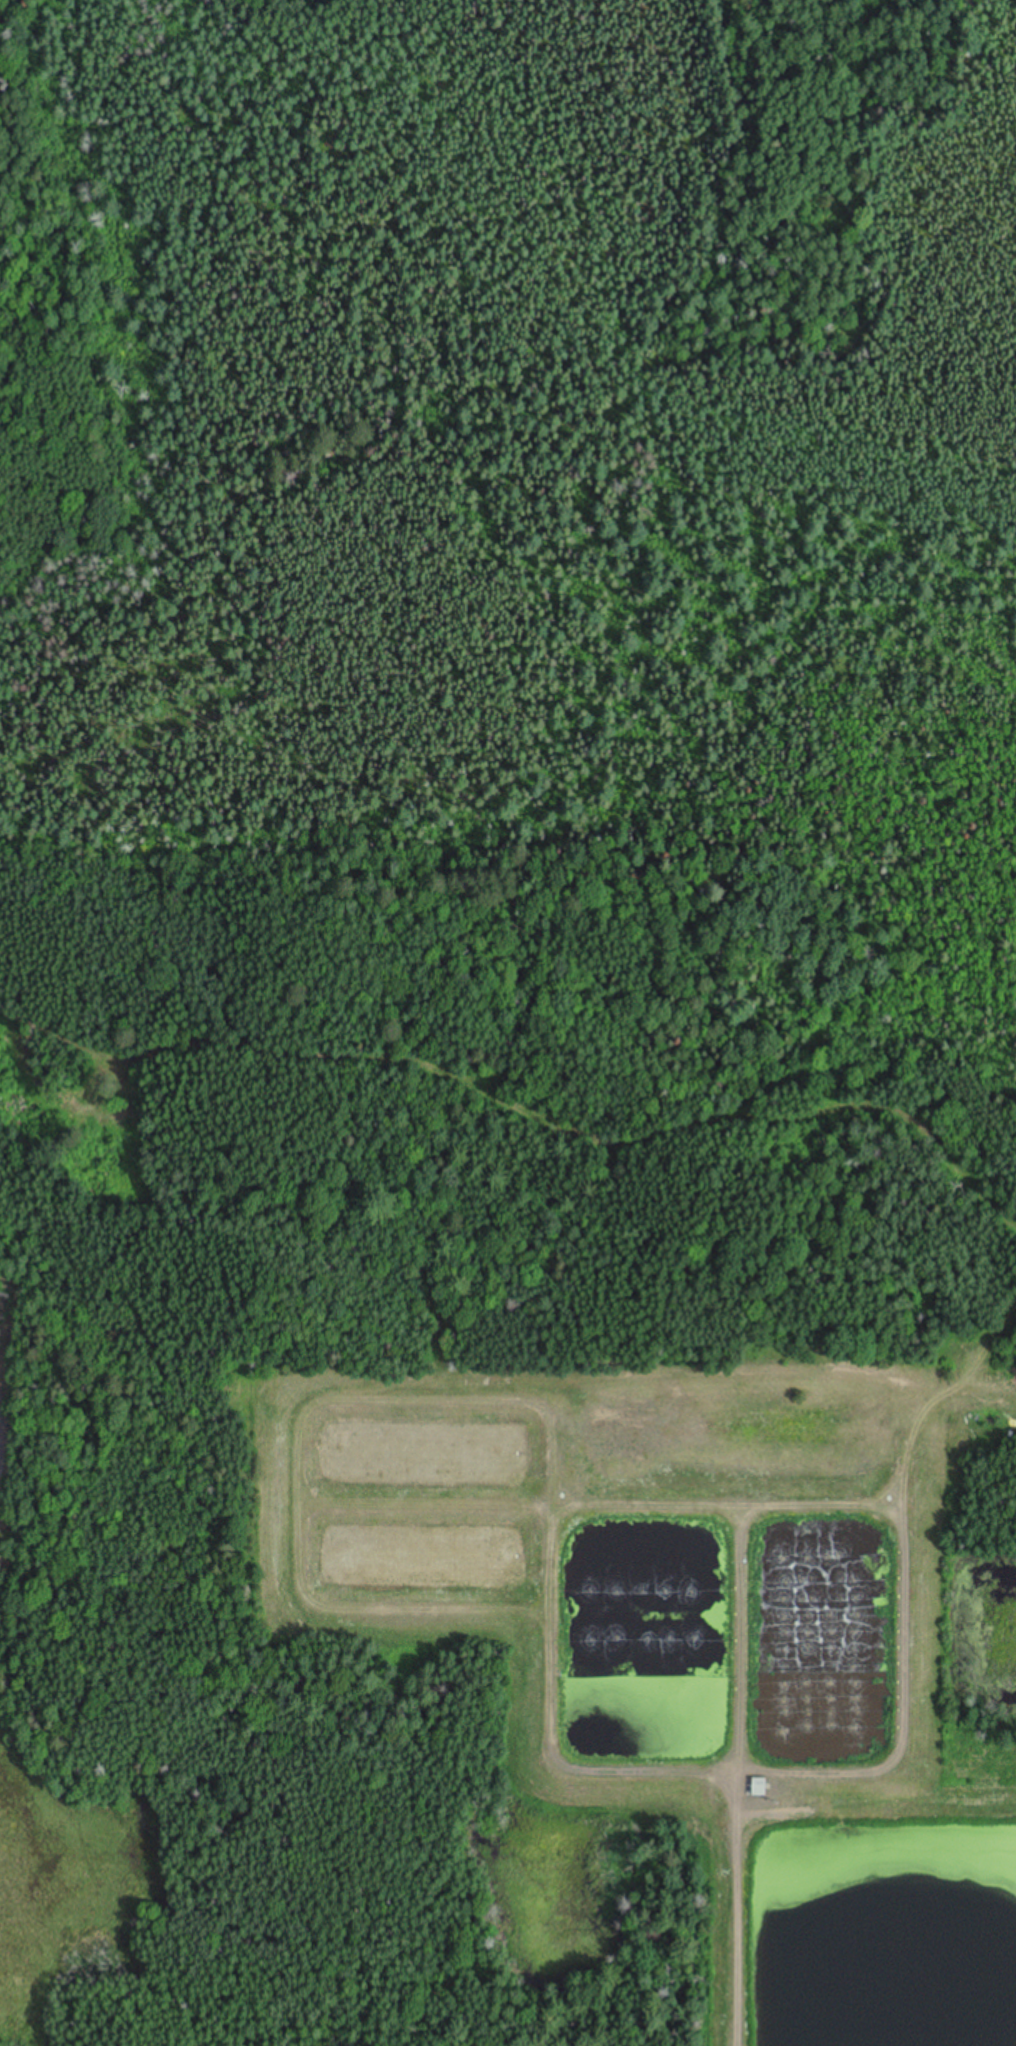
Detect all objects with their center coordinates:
building: (762, 1789)

